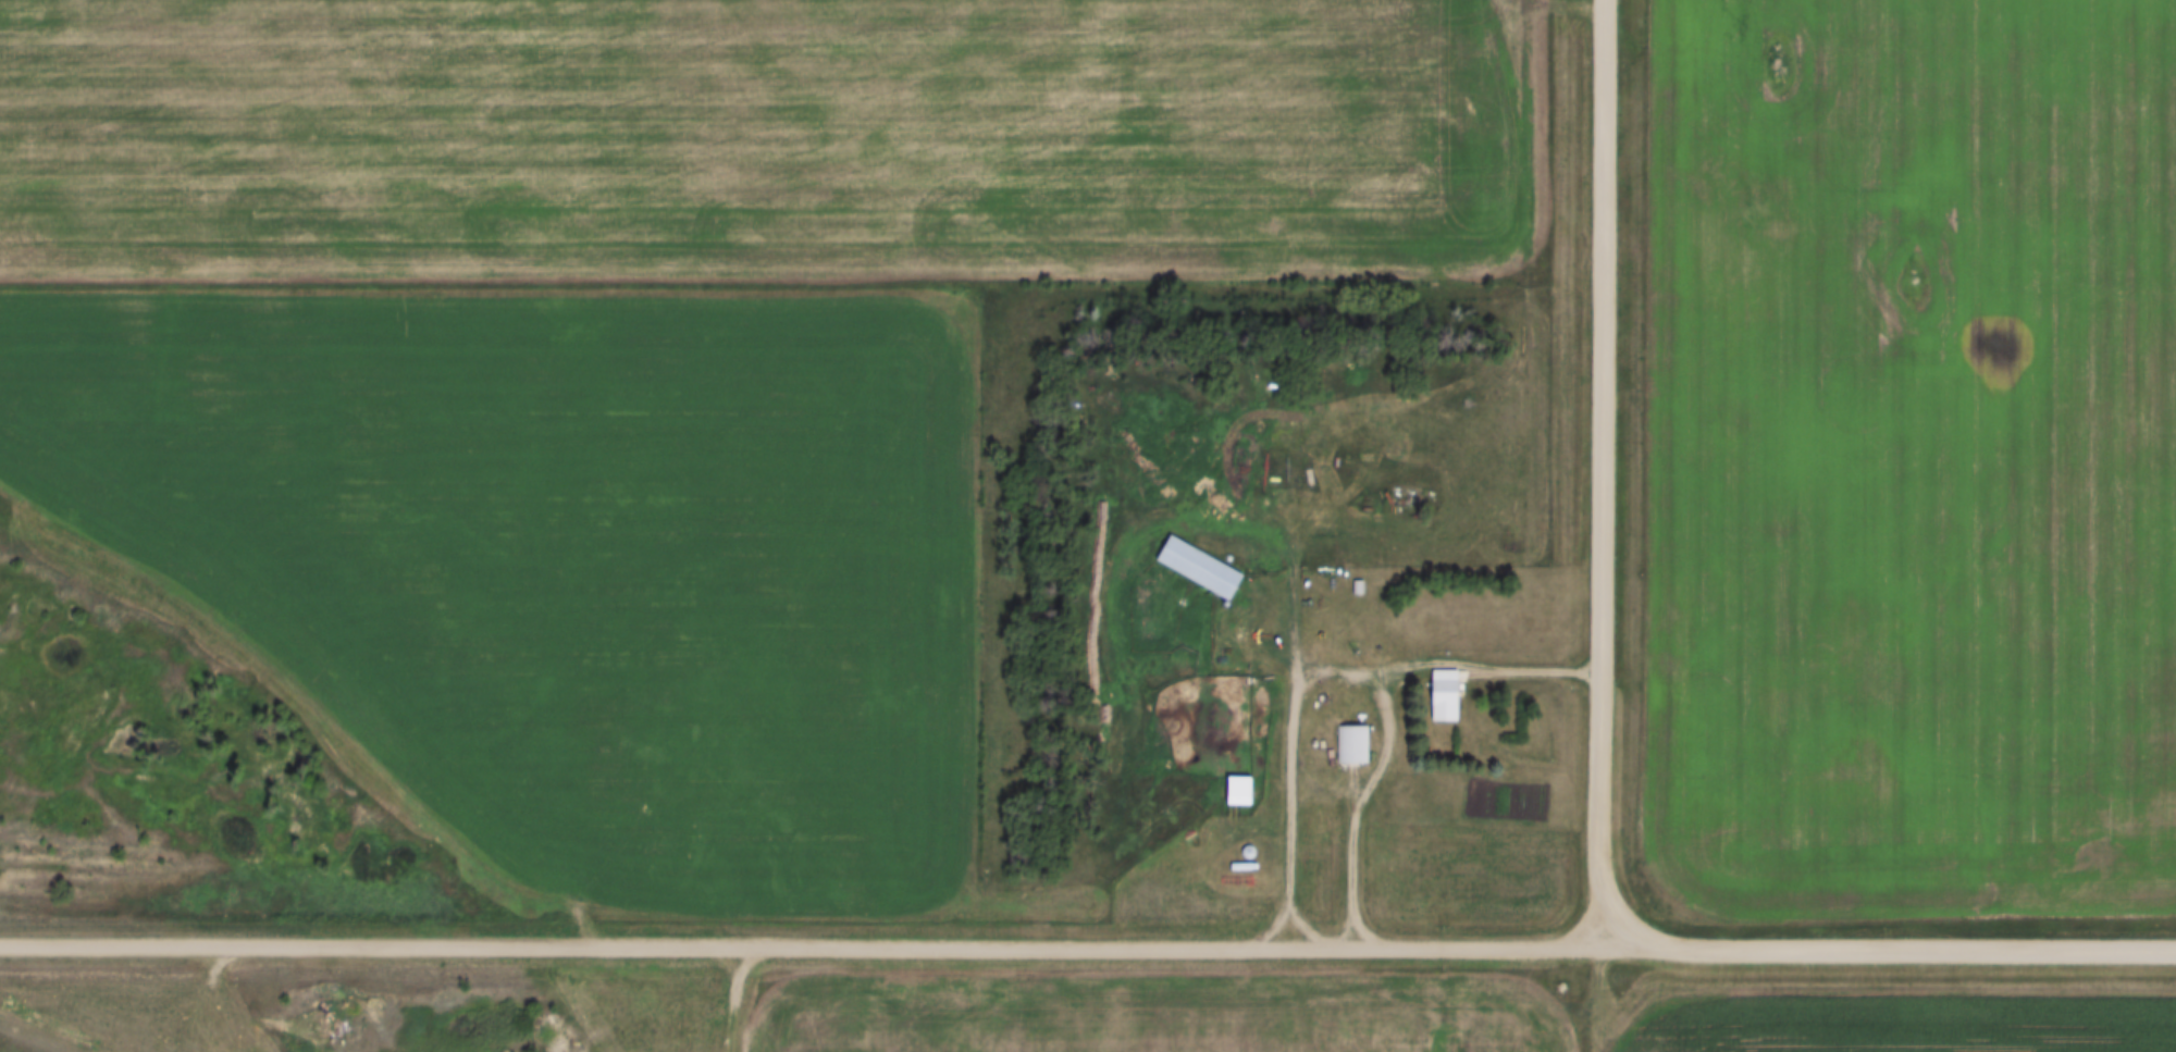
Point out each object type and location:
road: (1607, 473)
building: (1178, 554)
building: (1339, 573)
building: (1359, 587)
road: (1322, 674)
building: (1425, 682)
building: (1448, 696)
building: (1334, 730)
building: (1352, 745)
building: (1217, 779)
building: (1239, 779)
road: (1360, 803)
building: (1229, 839)
silo: (1229, 839)
road: (801, 944)
road: (1889, 948)

